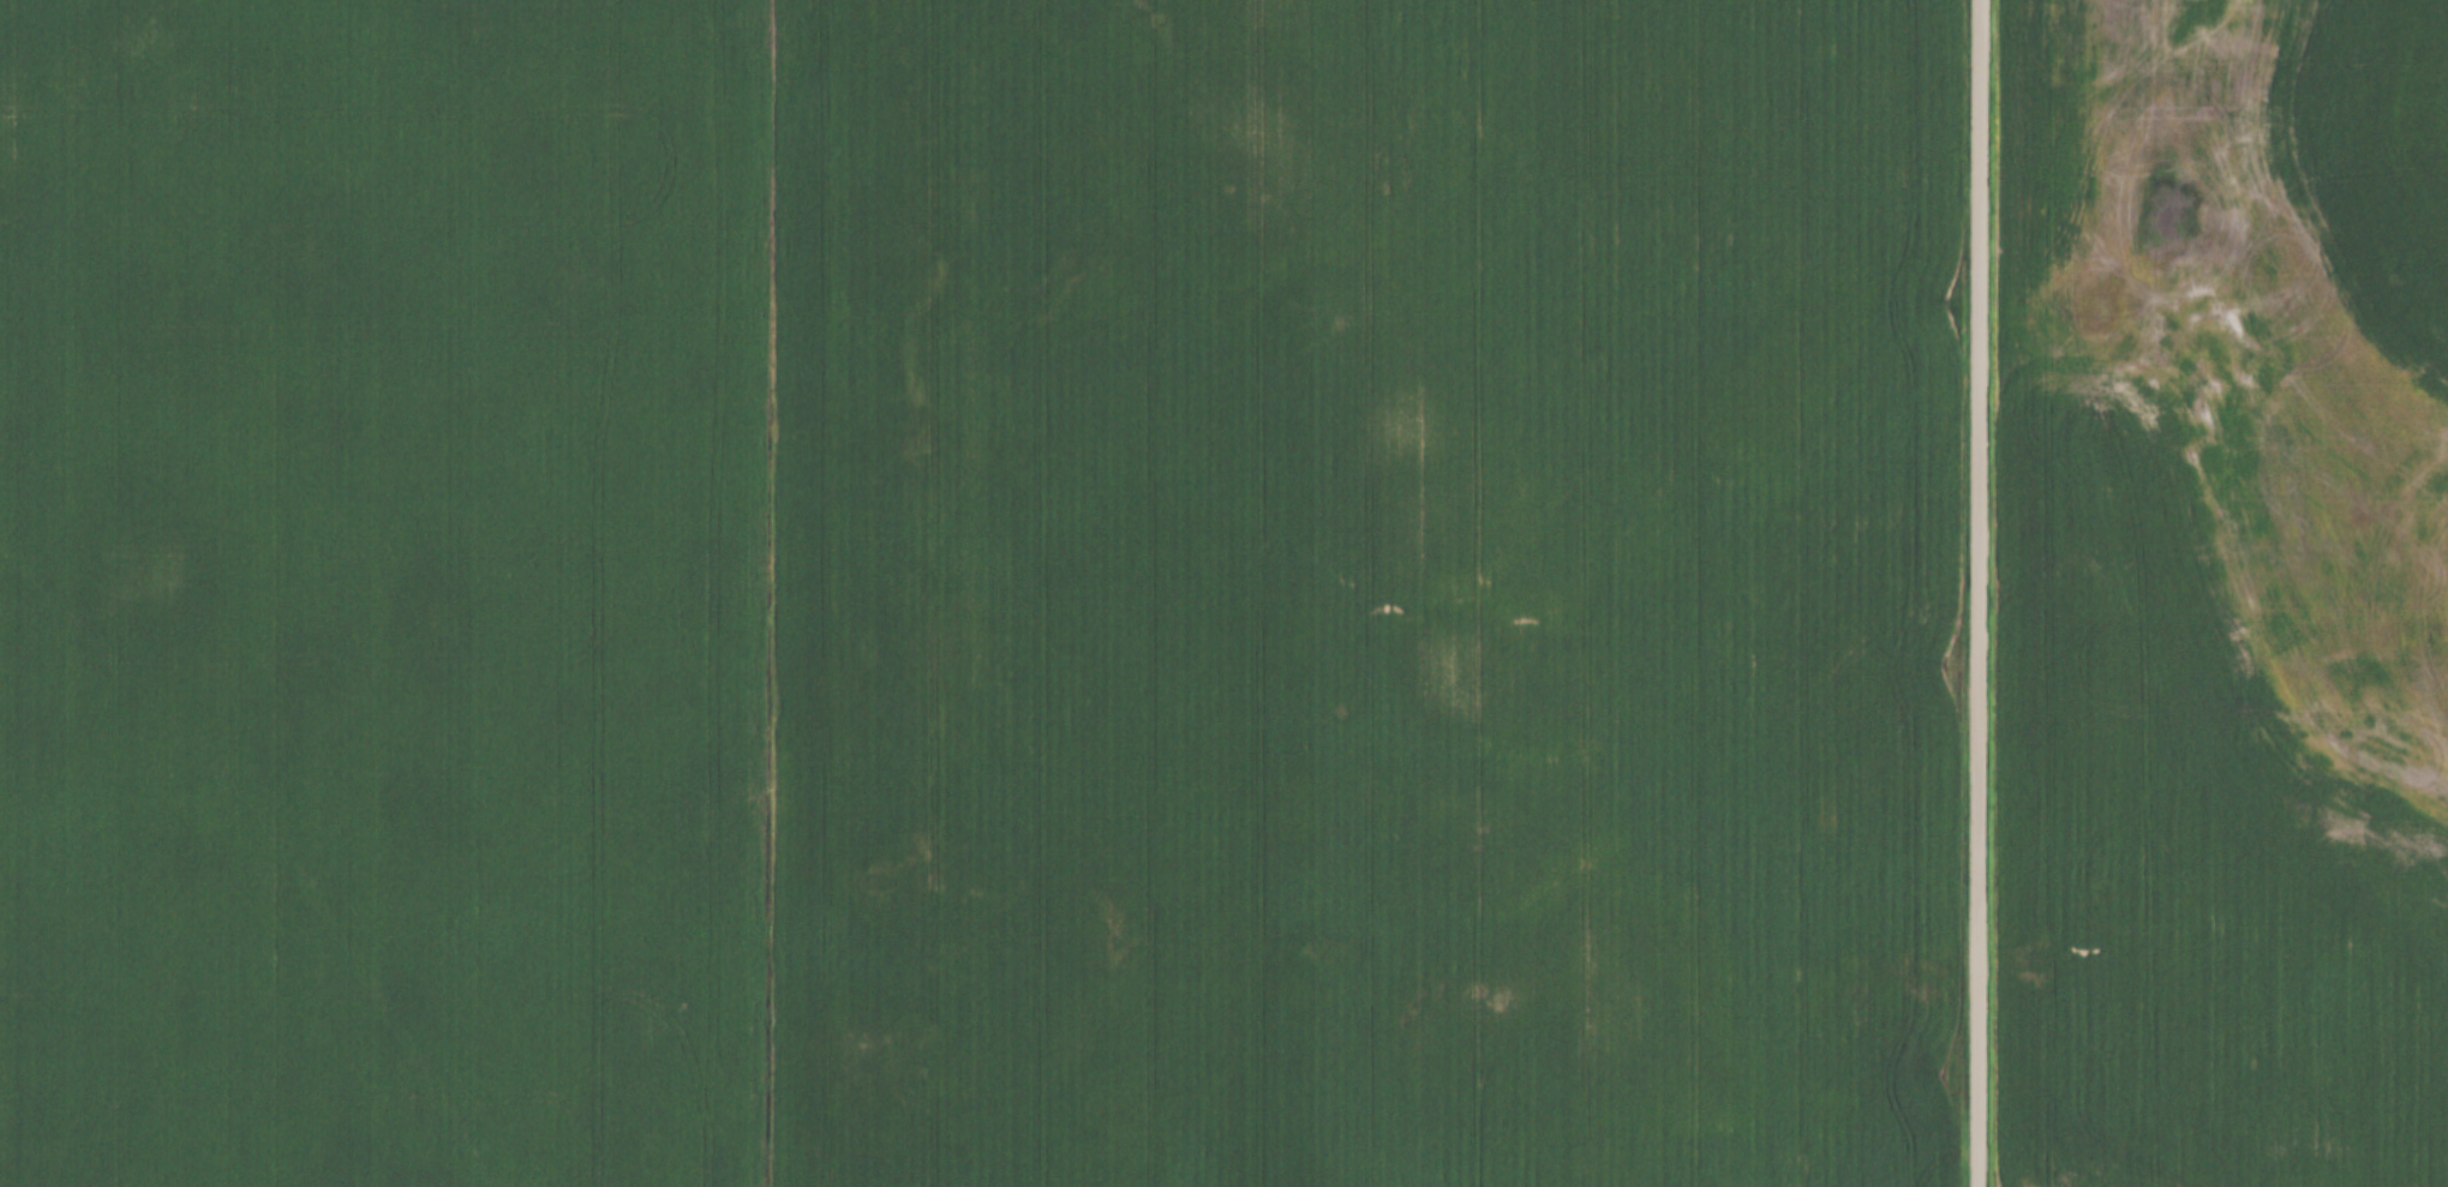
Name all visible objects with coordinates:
road: (1981, 593)

